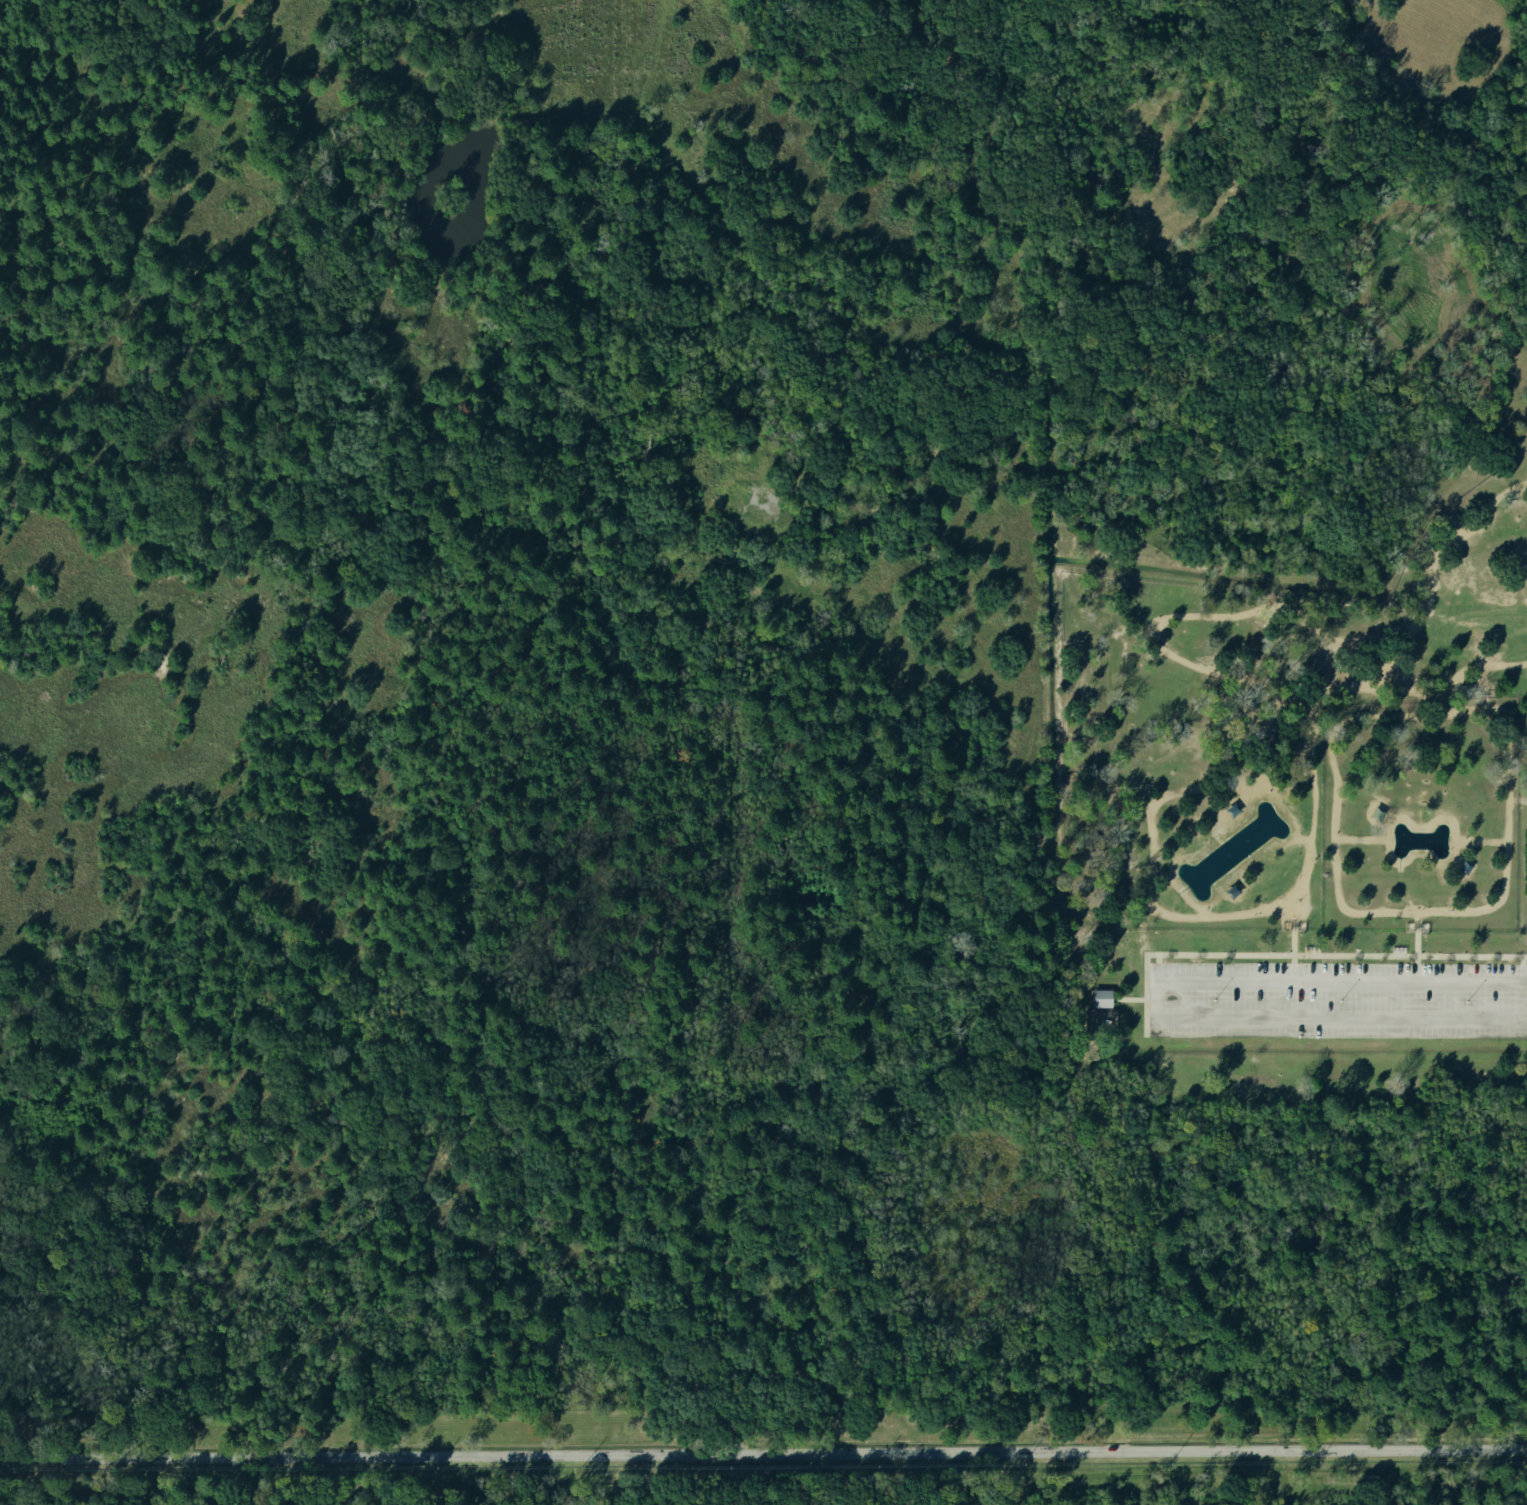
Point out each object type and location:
road: (1180, 660)
road: (1378, 665)
road: (1323, 693)
road: (1247, 794)
road: (1233, 796)
road: (1272, 796)
road: (1219, 807)
building: (1233, 809)
building: (1377, 813)
road: (1387, 818)
road: (1421, 826)
park: (1523, 829)
road: (1479, 840)
road: (1395, 861)
road: (1455, 861)
building: (1465, 867)
building: (1231, 890)
road: (1239, 894)
road: (1342, 908)
road: (1293, 926)
road: (1416, 948)
road: (1294, 954)
road: (1158, 968)
road: (1294, 968)
road: (1522, 971)
road: (1150, 995)
building: (1102, 998)
road: (1127, 998)
street lamp: (1213, 1000)
parking lot: (1335, 1000)
street lamp: (1341, 1001)
street lamp: (1467, 1001)
road: (1524, 1007)
road: (763, 1453)

